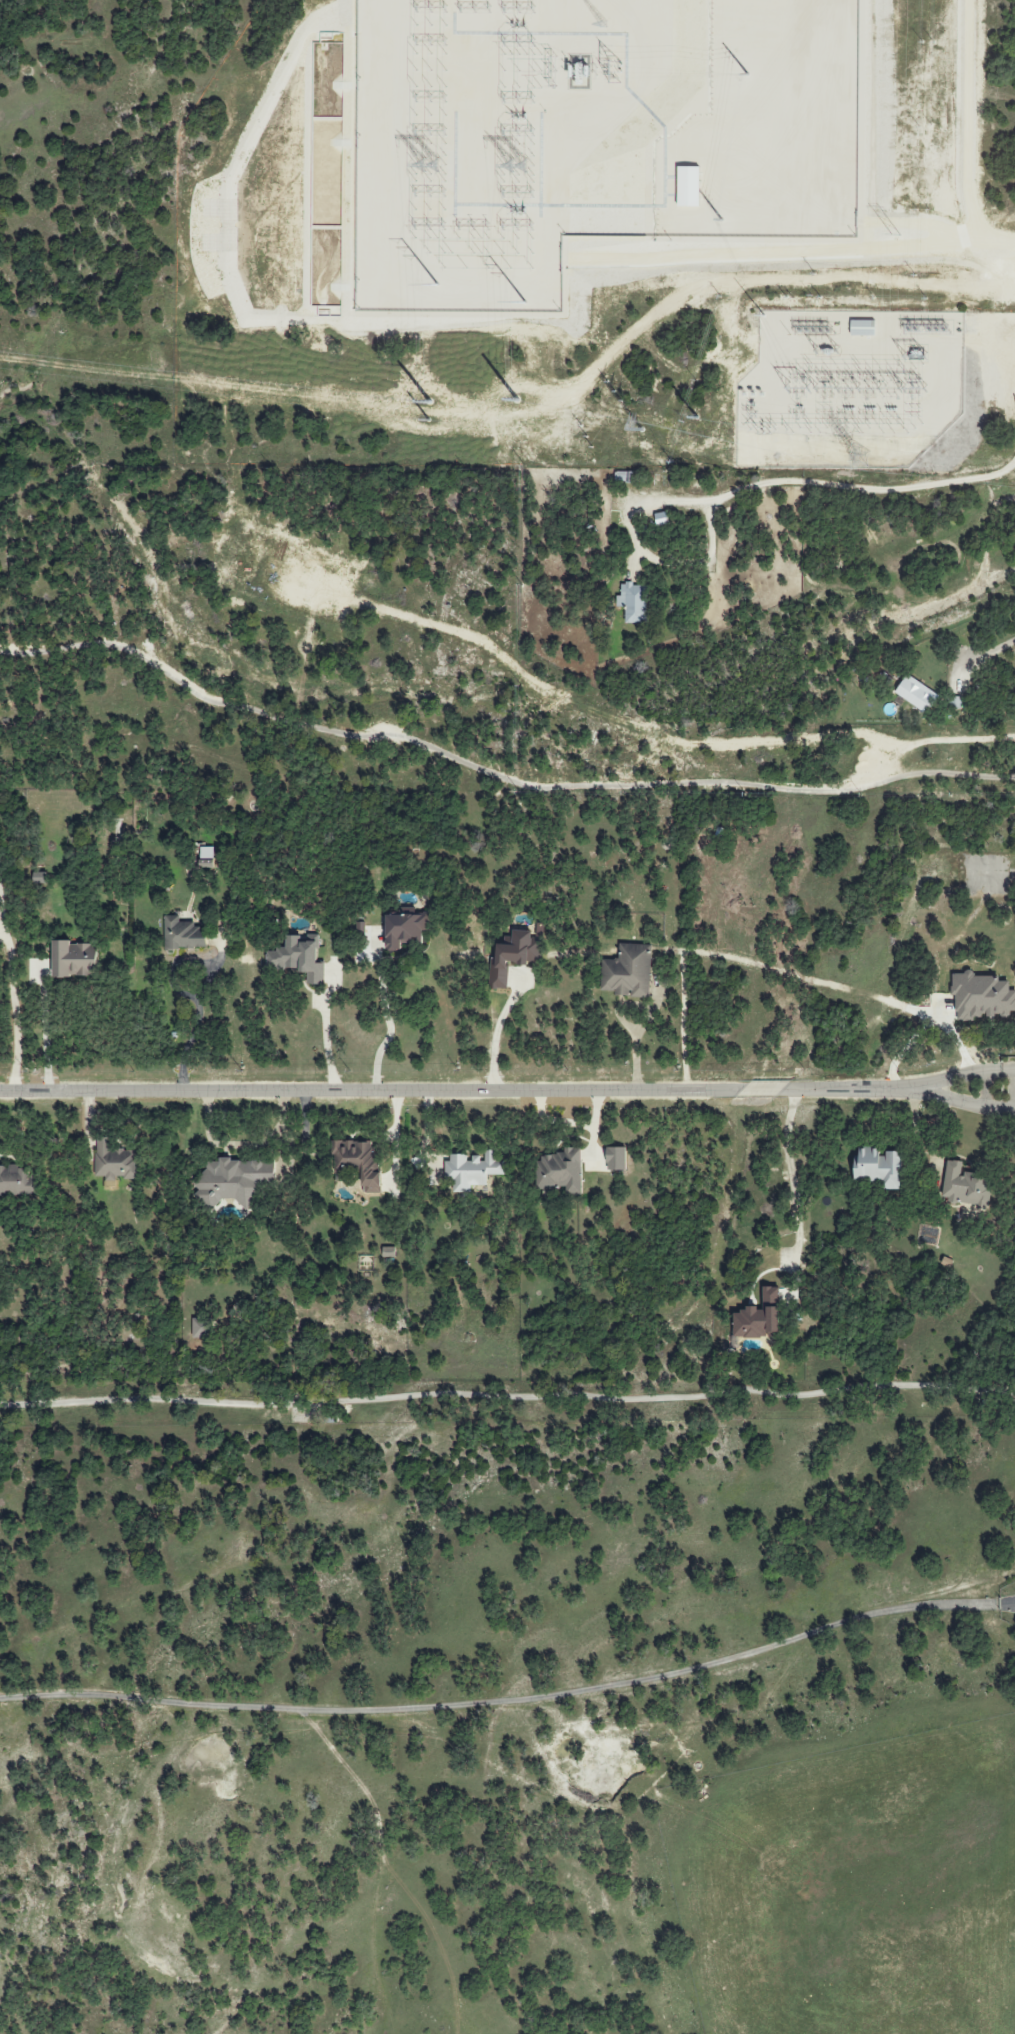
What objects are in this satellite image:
power tower: (744, 72)
power tower: (610, 73)
power substation: (588, 134)
road: (973, 135)
power tower: (432, 166)
power tower: (517, 166)
building: (687, 186)
power tower: (719, 218)
building: (863, 328)
road: (989, 346)
power tower: (612, 385)
power substation: (848, 389)
power tower: (429, 399)
power tower: (514, 402)
power tower: (428, 417)
power tower: (696, 418)
power tower: (585, 434)
power tower: (642, 435)
power tower: (862, 459)
road: (796, 480)
building: (661, 518)
road: (704, 541)
building: (634, 602)
road: (973, 650)
building: (917, 694)
road: (403, 739)
road: (913, 744)
building: (206, 856)
building: (404, 930)
building: (183, 934)
building: (513, 957)
building: (74, 959)
building: (300, 959)
building: (628, 971)
building: (981, 995)
road: (17, 1015)
road: (196, 1023)
road: (387, 1025)
road: (328, 1037)
road: (497, 1038)
road: (43, 1040)
road: (637, 1043)
road: (905, 1044)
road: (965, 1078)
road: (986, 1090)
road: (458, 1092)
road: (965, 1103)
building: (616, 1158)
building: (115, 1161)
building: (358, 1163)
building: (878, 1167)
building: (472, 1170)
building: (560, 1171)
road: (794, 1171)
building: (234, 1180)
building: (17, 1181)
building: (964, 1186)
building: (389, 1252)
building: (758, 1318)
building: (201, 1328)
road: (507, 1398)
road: (512, 1702)

